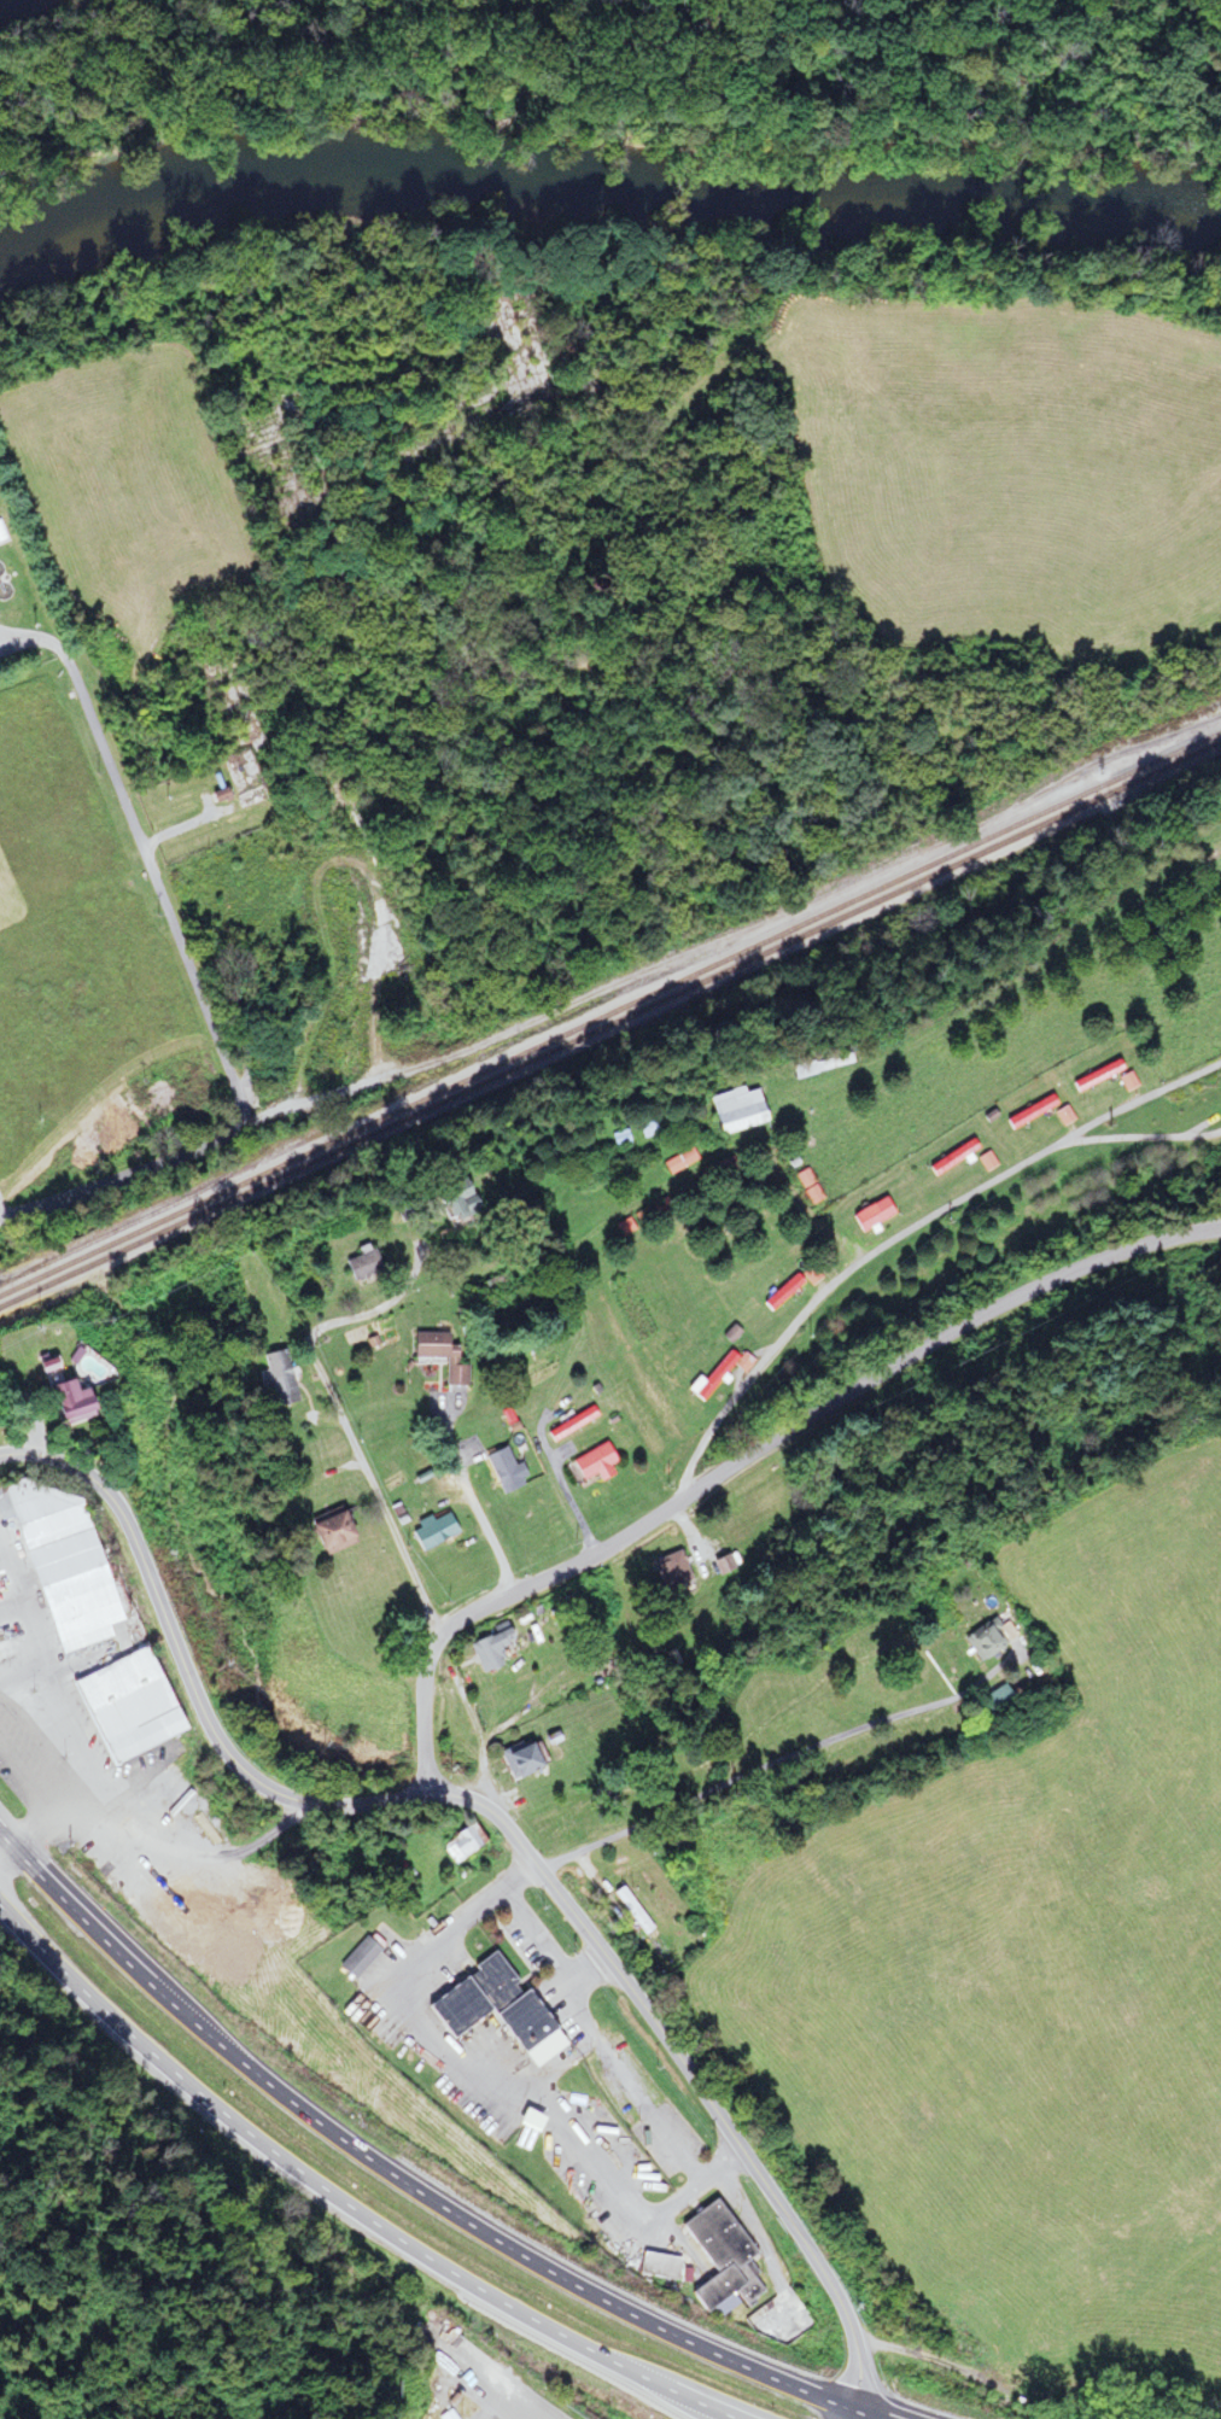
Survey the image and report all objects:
building: (1, 537)
railway: (1198, 734)
building: (217, 795)
road: (191, 972)
railway: (586, 1019)
building: (817, 1067)
building: (1094, 1076)
building: (730, 1111)
building: (1028, 1112)
building: (951, 1158)
building: (676, 1162)
building: (721, 1168)
building: (450, 1203)
building: (870, 1217)
road: (1217, 1227)
road: (901, 1232)
building: (357, 1264)
building: (492, 1285)
building: (781, 1293)
road: (572, 1305)
building: (437, 1356)
building: (274, 1379)
building: (709, 1379)
building: (63, 1404)
road: (339, 1413)
building: (568, 1425)
road: (752, 1450)
building: (591, 1465)
building: (502, 1471)
road: (477, 1512)
building: (431, 1532)
building: (325, 1535)
building: (59, 1568)
building: (670, 1572)
building: (983, 1636)
building: (487, 1649)
road: (16, 1675)
building: (991, 1702)
building: (123, 1706)
road: (490, 1737)
building: (520, 1758)
road: (777, 1760)
road: (499, 1817)
building: (460, 1844)
building: (630, 1910)
road: (456, 1924)
building: (356, 1957)
building: (469, 1994)
building: (520, 2021)
building: (526, 2121)
road: (390, 2175)
road: (341, 2199)
building: (719, 2257)
building: (656, 2266)
road: (478, 2376)
building: (444, 2415)
road: (851, 2415)
road: (863, 2415)

